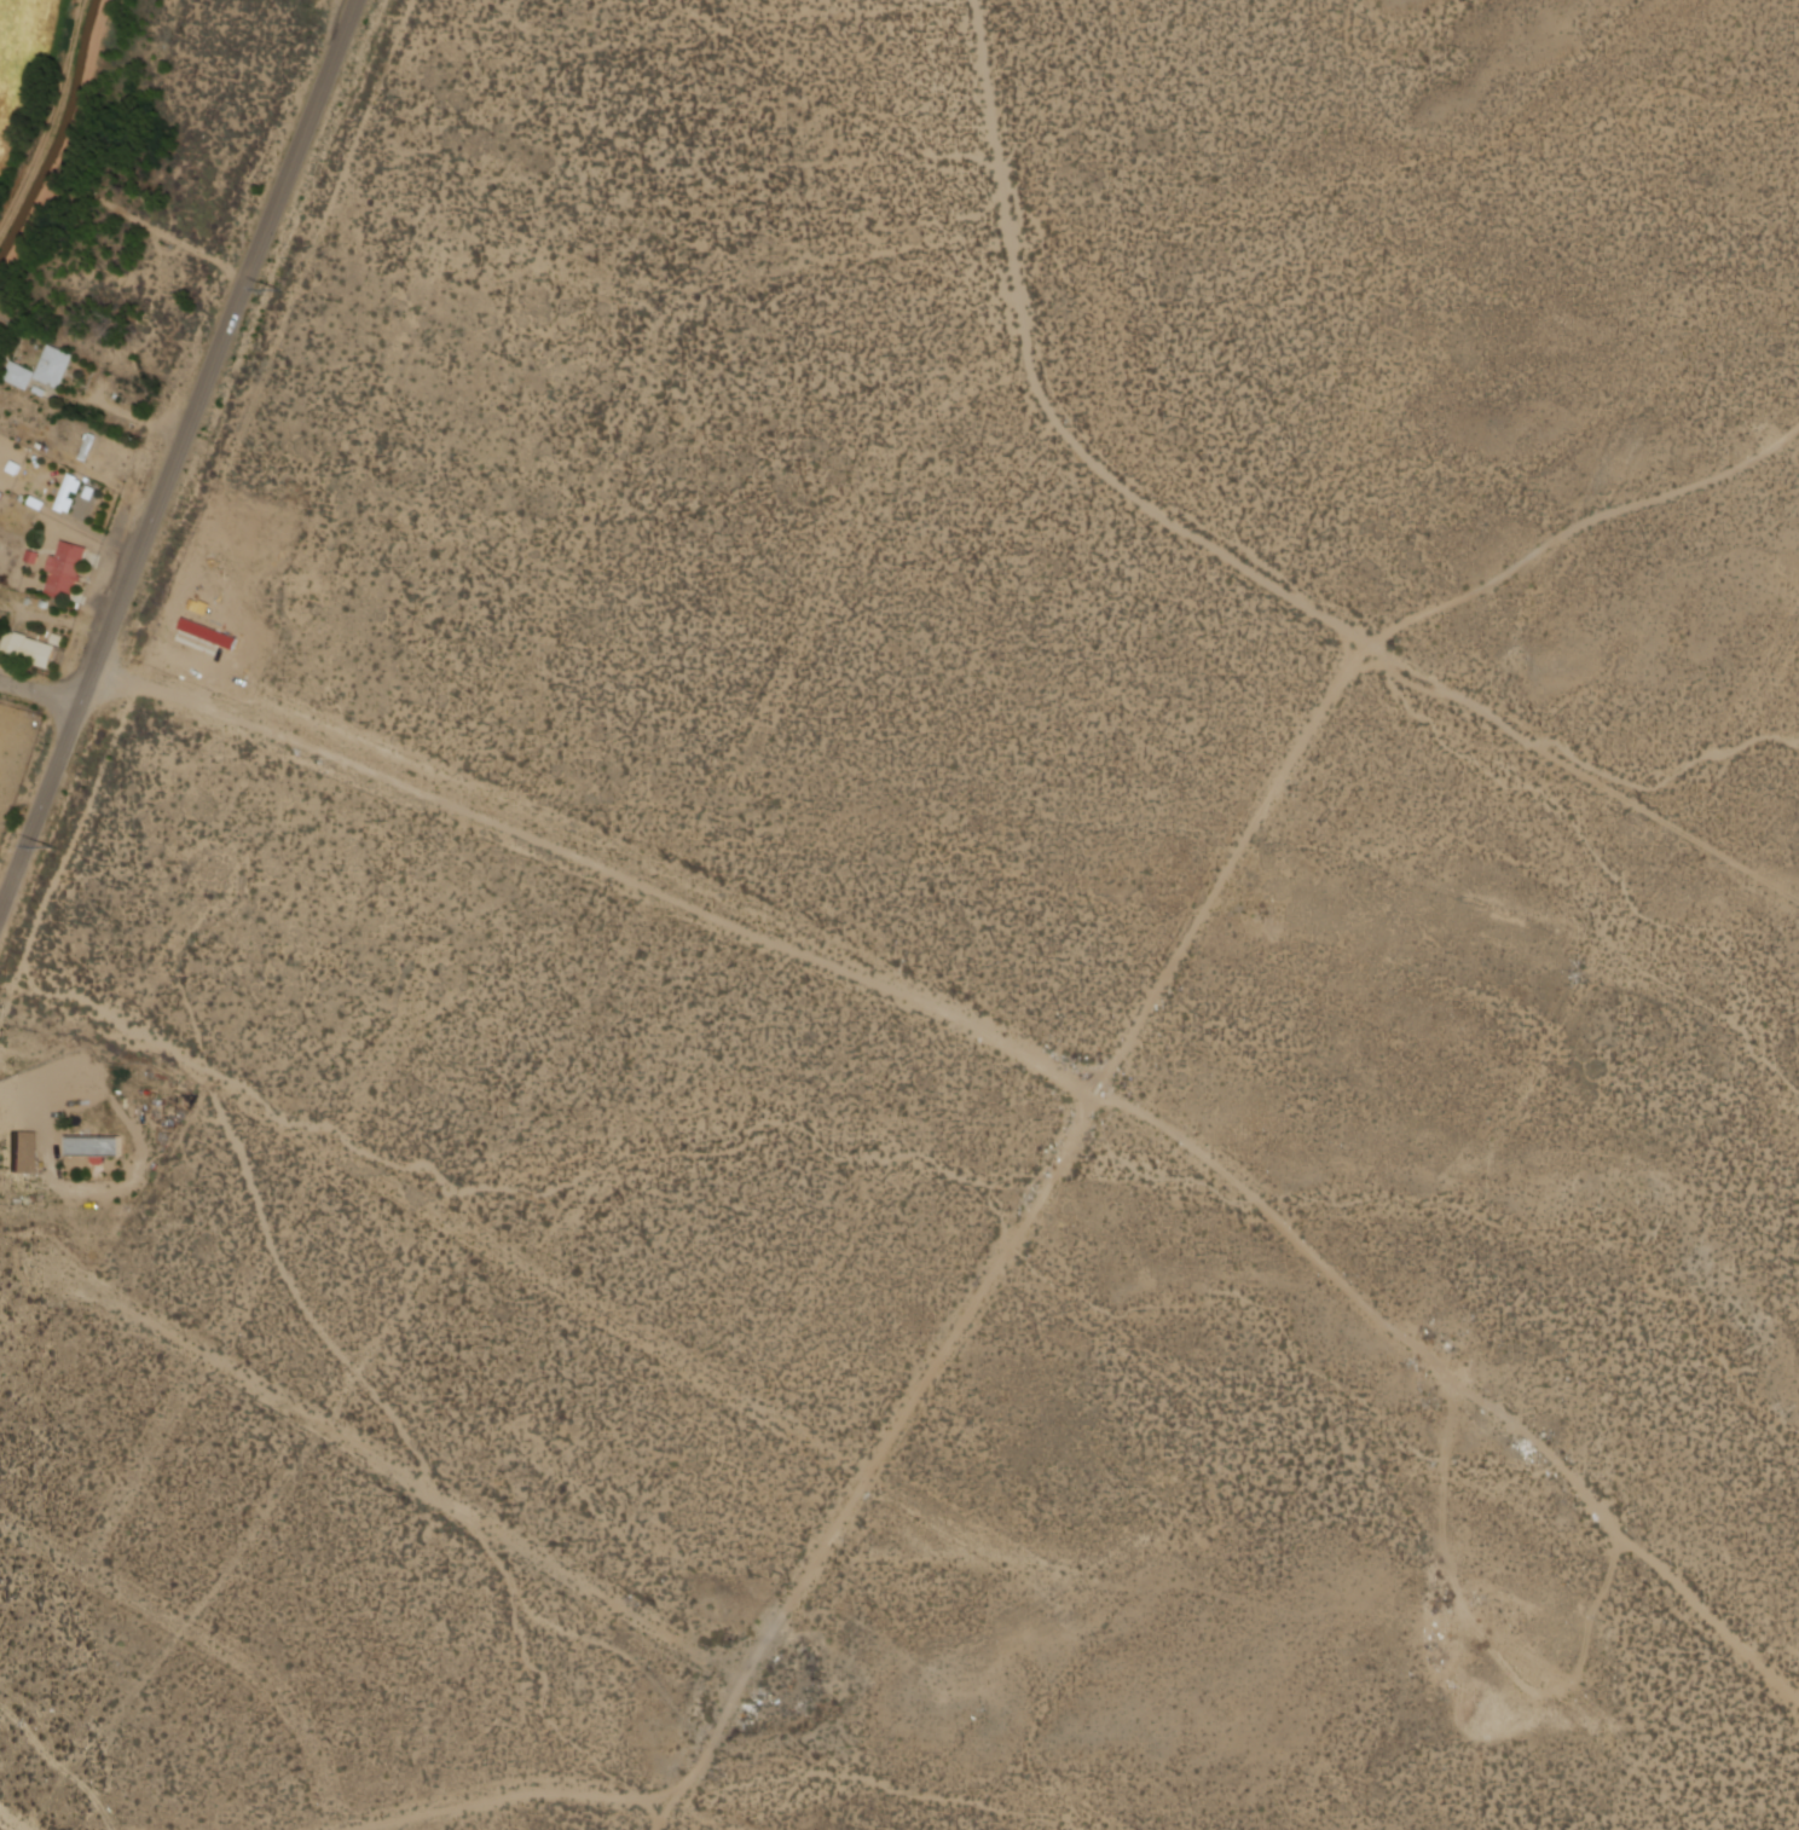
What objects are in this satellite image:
building: (52, 366)
building: (87, 447)
road: (178, 459)
building: (66, 496)
building: (65, 572)
building: (198, 637)
building: (28, 650)
road: (41, 693)
road: (601, 867)
building: (92, 1147)
building: (24, 1151)
road: (926, 1380)
road: (393, 1465)
road: (514, 1471)
road: (10, 1823)

